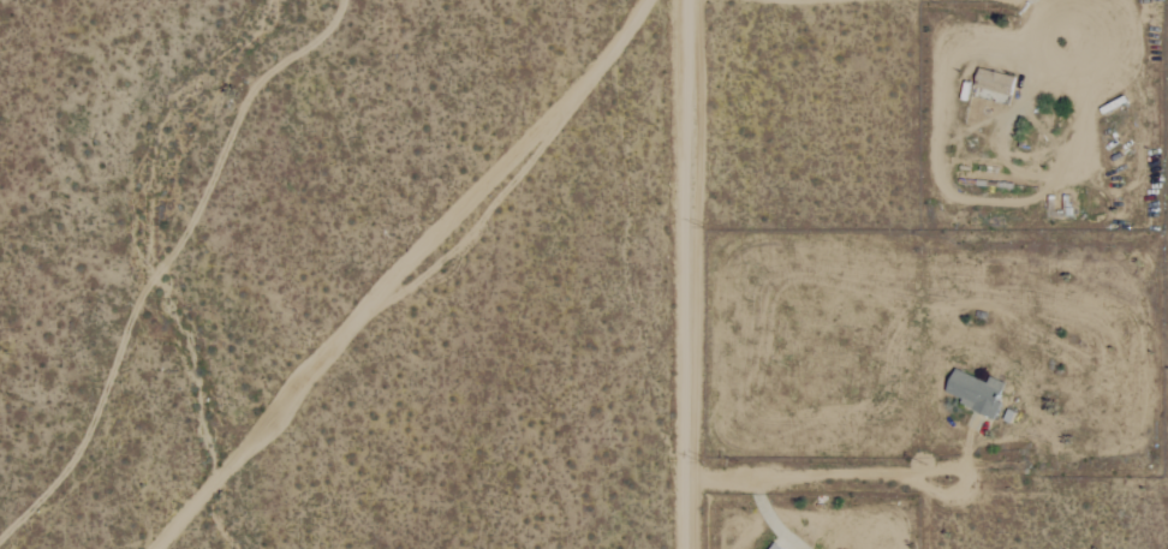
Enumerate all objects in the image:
road: (672, 274)
building: (981, 392)
road: (795, 473)
road: (971, 481)
building: (780, 547)

